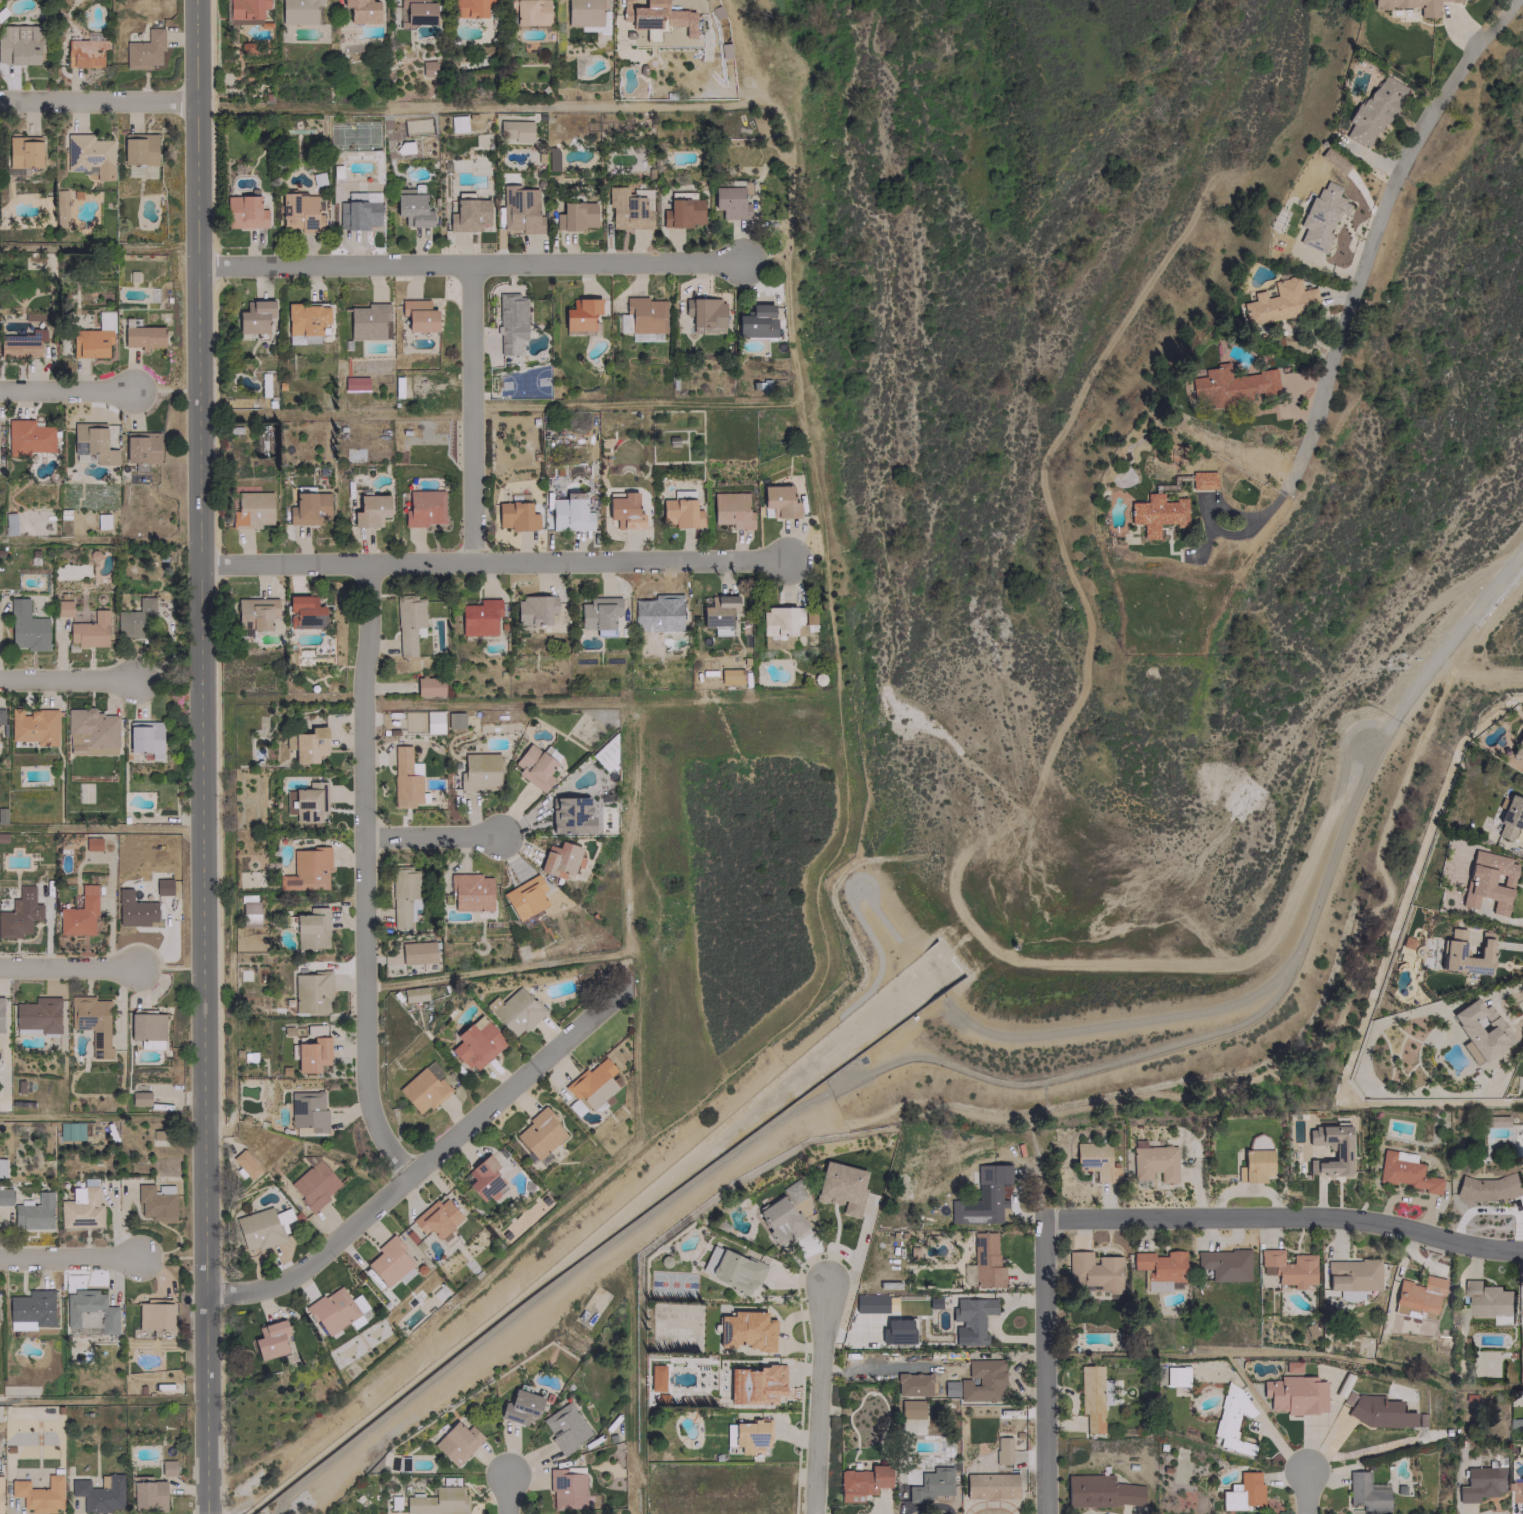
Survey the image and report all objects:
building: (1411, 5)
building: (468, 8)
building: (245, 10)
building: (361, 10)
building: (297, 11)
building: (416, 12)
building: (531, 12)
building: (584, 12)
building: (656, 15)
building: (20, 43)
building: (144, 50)
building: (84, 52)
building: (427, 68)
road: (99, 98)
building: (1373, 110)
building: (457, 123)
building: (514, 130)
building: (138, 148)
building: (23, 151)
building: (88, 155)
building: (551, 159)
building: (1333, 160)
building: (731, 200)
building: (60, 208)
building: (412, 209)
building: (520, 209)
building: (628, 209)
building: (244, 212)
building: (299, 212)
building: (683, 212)
building: (468, 215)
building: (1321, 215)
building: (575, 216)
road: (70, 247)
road: (473, 261)
road: (1362, 288)
building: (1280, 301)
building: (704, 311)
building: (580, 314)
building: (418, 315)
building: (254, 316)
building: (305, 318)
building: (645, 318)
building: (369, 321)
building: (623, 321)
building: (756, 321)
building: (510, 323)
building: (143, 336)
building: (93, 337)
building: (303, 339)
building: (21, 344)
building: (355, 383)
building: (1230, 385)
road: (69, 388)
road: (474, 411)
building: (28, 437)
building: (92, 443)
building: (140, 448)
building: (1202, 480)
building: (780, 508)
building: (308, 509)
building: (424, 509)
building: (368, 510)
building: (731, 511)
building: (250, 512)
building: (624, 512)
building: (679, 512)
building: (569, 514)
building: (1156, 514)
building: (515, 516)
building: (101, 521)
road: (495, 560)
building: (62, 608)
building: (534, 609)
building: (718, 611)
building: (256, 612)
building: (303, 612)
building: (598, 612)
building: (659, 612)
building: (479, 617)
building: (134, 618)
building: (781, 620)
building: (408, 624)
building: (26, 627)
building: (89, 630)
building: (730, 676)
road: (68, 678)
building: (429, 686)
building: (454, 720)
building: (423, 721)
building: (33, 726)
building: (90, 732)
building: (145, 738)
building: (309, 744)
building: (1517, 748)
building: (606, 753)
road: (202, 756)
building: (533, 766)
building: (479, 772)
building: (405, 778)
building: (306, 802)
building: (570, 815)
building: (1508, 817)
road: (432, 834)
building: (91, 843)
building: (558, 859)
building: (306, 870)
road: (365, 875)
building: (1488, 881)
building: (163, 886)
building: (470, 892)
building: (403, 895)
building: (524, 897)
building: (134, 909)
building: (249, 910)
building: (19, 913)
building: (79, 913)
building: (311, 928)
building: (1452, 947)
building: (416, 952)
road: (71, 964)
building: (310, 991)
building: (413, 994)
building: (515, 1011)
building: (37, 1015)
building: (2, 1017)
building: (91, 1022)
building: (146, 1025)
building: (1480, 1027)
building: (476, 1045)
building: (311, 1054)
building: (591, 1084)
building: (424, 1087)
building: (139, 1098)
building: (307, 1110)
building: (70, 1131)
building: (539, 1134)
building: (1259, 1142)
building: (1341, 1153)
building: (1095, 1161)
building: (1153, 1161)
building: (245, 1163)
building: (1253, 1166)
road: (422, 1169)
building: (1403, 1171)
building: (484, 1179)
building: (313, 1183)
building: (840, 1187)
building: (1487, 1187)
building: (163, 1188)
building: (991, 1194)
building: (5, 1196)
building: (154, 1203)
building: (34, 1213)
building: (955, 1214)
road: (1284, 1216)
building: (436, 1218)
building: (779, 1220)
road: (71, 1258)
building: (985, 1261)
building: (390, 1262)
building: (1224, 1264)
building: (1287, 1267)
building: (731, 1269)
building: (1160, 1269)
building: (1092, 1271)
building: (1352, 1274)
building: (1349, 1295)
building: (1417, 1296)
building: (1487, 1298)
building: (31, 1307)
building: (336, 1310)
building: (89, 1313)
building: (153, 1315)
building: (1503, 1319)
building: (970, 1320)
building: (745, 1330)
building: (270, 1340)
road: (1043, 1366)
building: (1175, 1375)
building: (655, 1377)
building: (981, 1381)
building: (754, 1384)
building: (912, 1384)
building: (949, 1388)
building: (1295, 1394)
building: (1092, 1396)
road: (822, 1397)
building: (910, 1406)
building: (520, 1407)
building: (1378, 1411)
building: (1231, 1419)
building: (564, 1427)
building: (728, 1434)
building: (751, 1435)
building: (456, 1442)
building: (1002, 1449)
building: (167, 1467)
building: (0, 1480)
building: (861, 1482)
building: (1481, 1482)
building: (931, 1484)
building: (989, 1486)
building: (566, 1487)
building: (1518, 1489)
building: (1099, 1491)
road: (1310, 1491)
road: (509, 1492)
building: (1243, 1492)
building: (1366, 1492)
building: (38, 1494)
building: (98, 1494)
building: (148, 1495)
building: (438, 1501)

